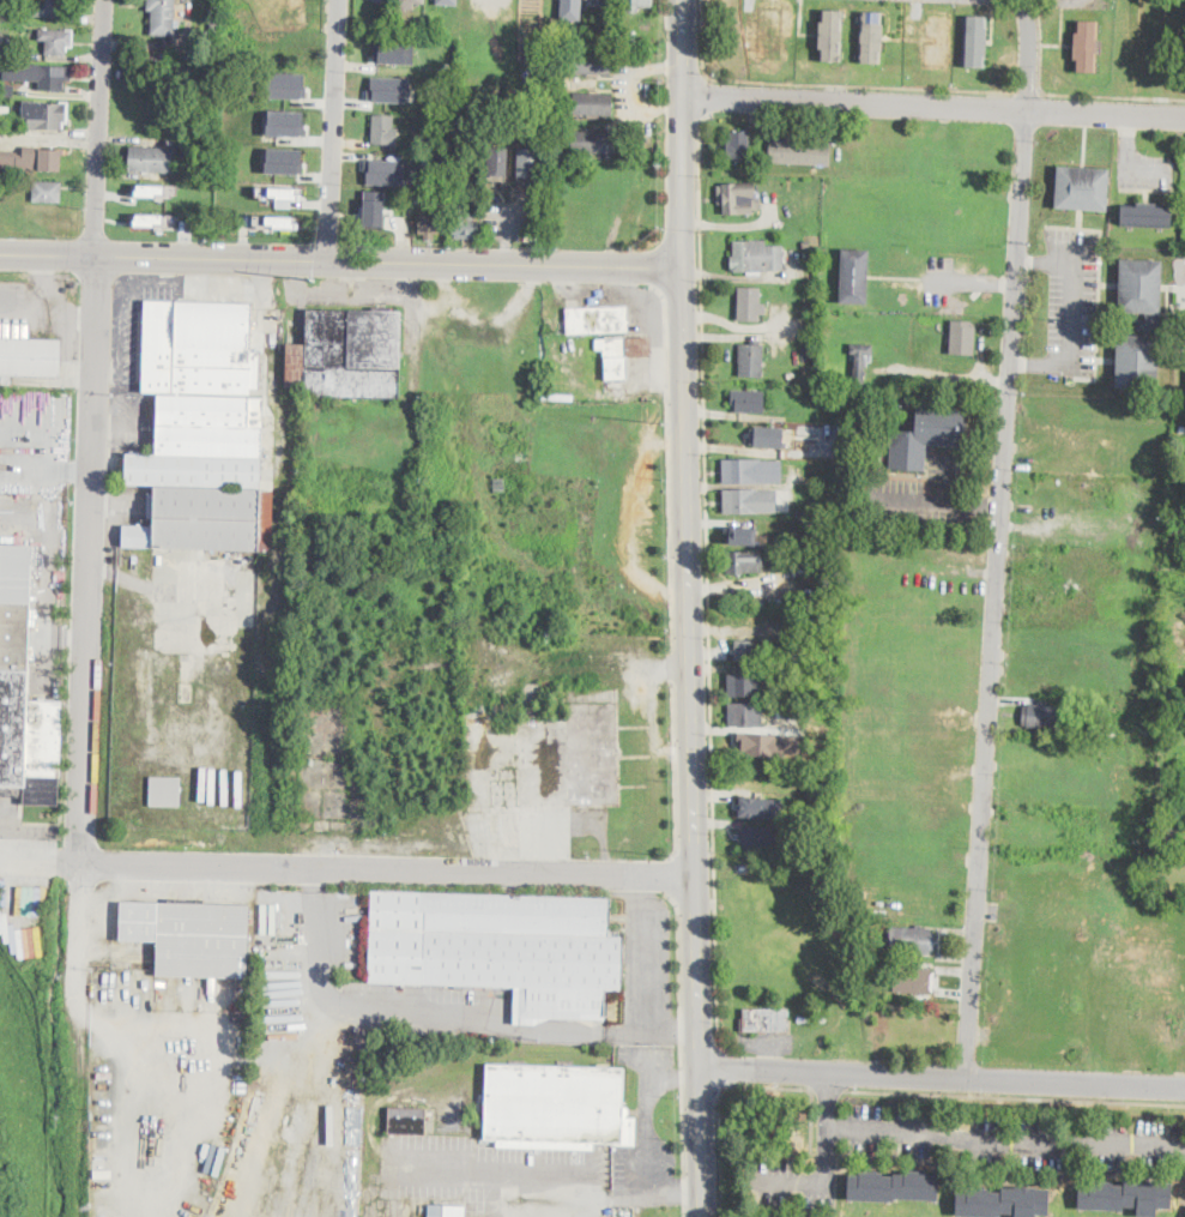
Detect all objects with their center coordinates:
building: (382, 1)
building: (447, 1)
building: (412, 4)
building: (566, 4)
building: (600, 4)
building: (637, 5)
building: (50, 7)
building: (283, 16)
building: (162, 17)
building: (769, 31)
building: (830, 36)
building: (870, 37)
building: (635, 38)
building: (937, 38)
building: (56, 40)
building: (975, 42)
road: (681, 47)
building: (1084, 47)
building: (394, 50)
road: (1029, 55)
building: (563, 59)
building: (592, 62)
building: (40, 74)
road: (822, 83)
building: (286, 84)
building: (389, 88)
building: (7, 90)
road: (1027, 90)
road: (1066, 92)
road: (708, 94)
building: (593, 103)
road: (932, 107)
building: (46, 113)
building: (285, 121)
building: (383, 129)
road: (333, 131)
building: (442, 135)
building: (601, 141)
building: (738, 145)
building: (799, 152)
building: (32, 158)
building: (284, 159)
building: (152, 161)
building: (497, 161)
building: (527, 162)
building: (192, 170)
building: (385, 170)
building: (192, 182)
building: (1080, 186)
building: (155, 188)
building: (47, 191)
building: (290, 191)
building: (738, 198)
building: (374, 207)
building: (1145, 213)
building: (273, 221)
building: (465, 222)
building: (430, 227)
building: (806, 245)
building: (757, 257)
building: (808, 258)
road: (339, 261)
road: (1038, 261)
building: (854, 276)
power tower: (315, 281)
road: (953, 283)
road: (28, 300)
road: (1070, 302)
building: (750, 305)
road: (80, 315)
building: (594, 318)
road: (66, 323)
building: (1139, 323)
building: (962, 337)
building: (349, 355)
building: (618, 355)
building: (29, 357)
building: (751, 359)
building: (860, 360)
road: (1039, 363)
building: (791, 374)
building: (748, 400)
building: (833, 409)
power tower: (661, 424)
building: (1183, 427)
building: (202, 430)
road: (90, 432)
building: (926, 435)
building: (768, 436)
building: (871, 446)
building: (842, 451)
road: (44, 468)
building: (751, 470)
building: (500, 482)
building: (750, 500)
building: (799, 513)
building: (742, 530)
building: (827, 536)
building: (774, 554)
building: (745, 561)
building: (16, 572)
road: (707, 577)
road: (687, 582)
road: (996, 594)
building: (745, 650)
building: (793, 651)
building: (745, 685)
building: (745, 715)
building: (1047, 716)
building: (25, 718)
building: (1093, 723)
building: (748, 745)
building: (165, 791)
building: (758, 806)
building: (1165, 836)
building: (757, 837)
road: (41, 851)
power tower: (670, 855)
road: (387, 875)
road: (313, 887)
road: (77, 936)
building: (191, 936)
building: (346, 939)
building: (912, 940)
building: (502, 947)
road: (641, 956)
building: (913, 980)
building: (767, 1019)
road: (464, 1020)
road: (725, 1066)
road: (942, 1076)
road: (133, 1077)
road: (736, 1084)
road: (828, 1090)
road: (829, 1095)
road: (1015, 1096)
building: (556, 1107)
building: (405, 1119)
road: (944, 1131)
road: (646, 1133)
road: (701, 1143)
road: (822, 1152)
road: (522, 1176)
building: (893, 1186)
building: (1125, 1197)
building: (1002, 1203)
building: (447, 1211)

